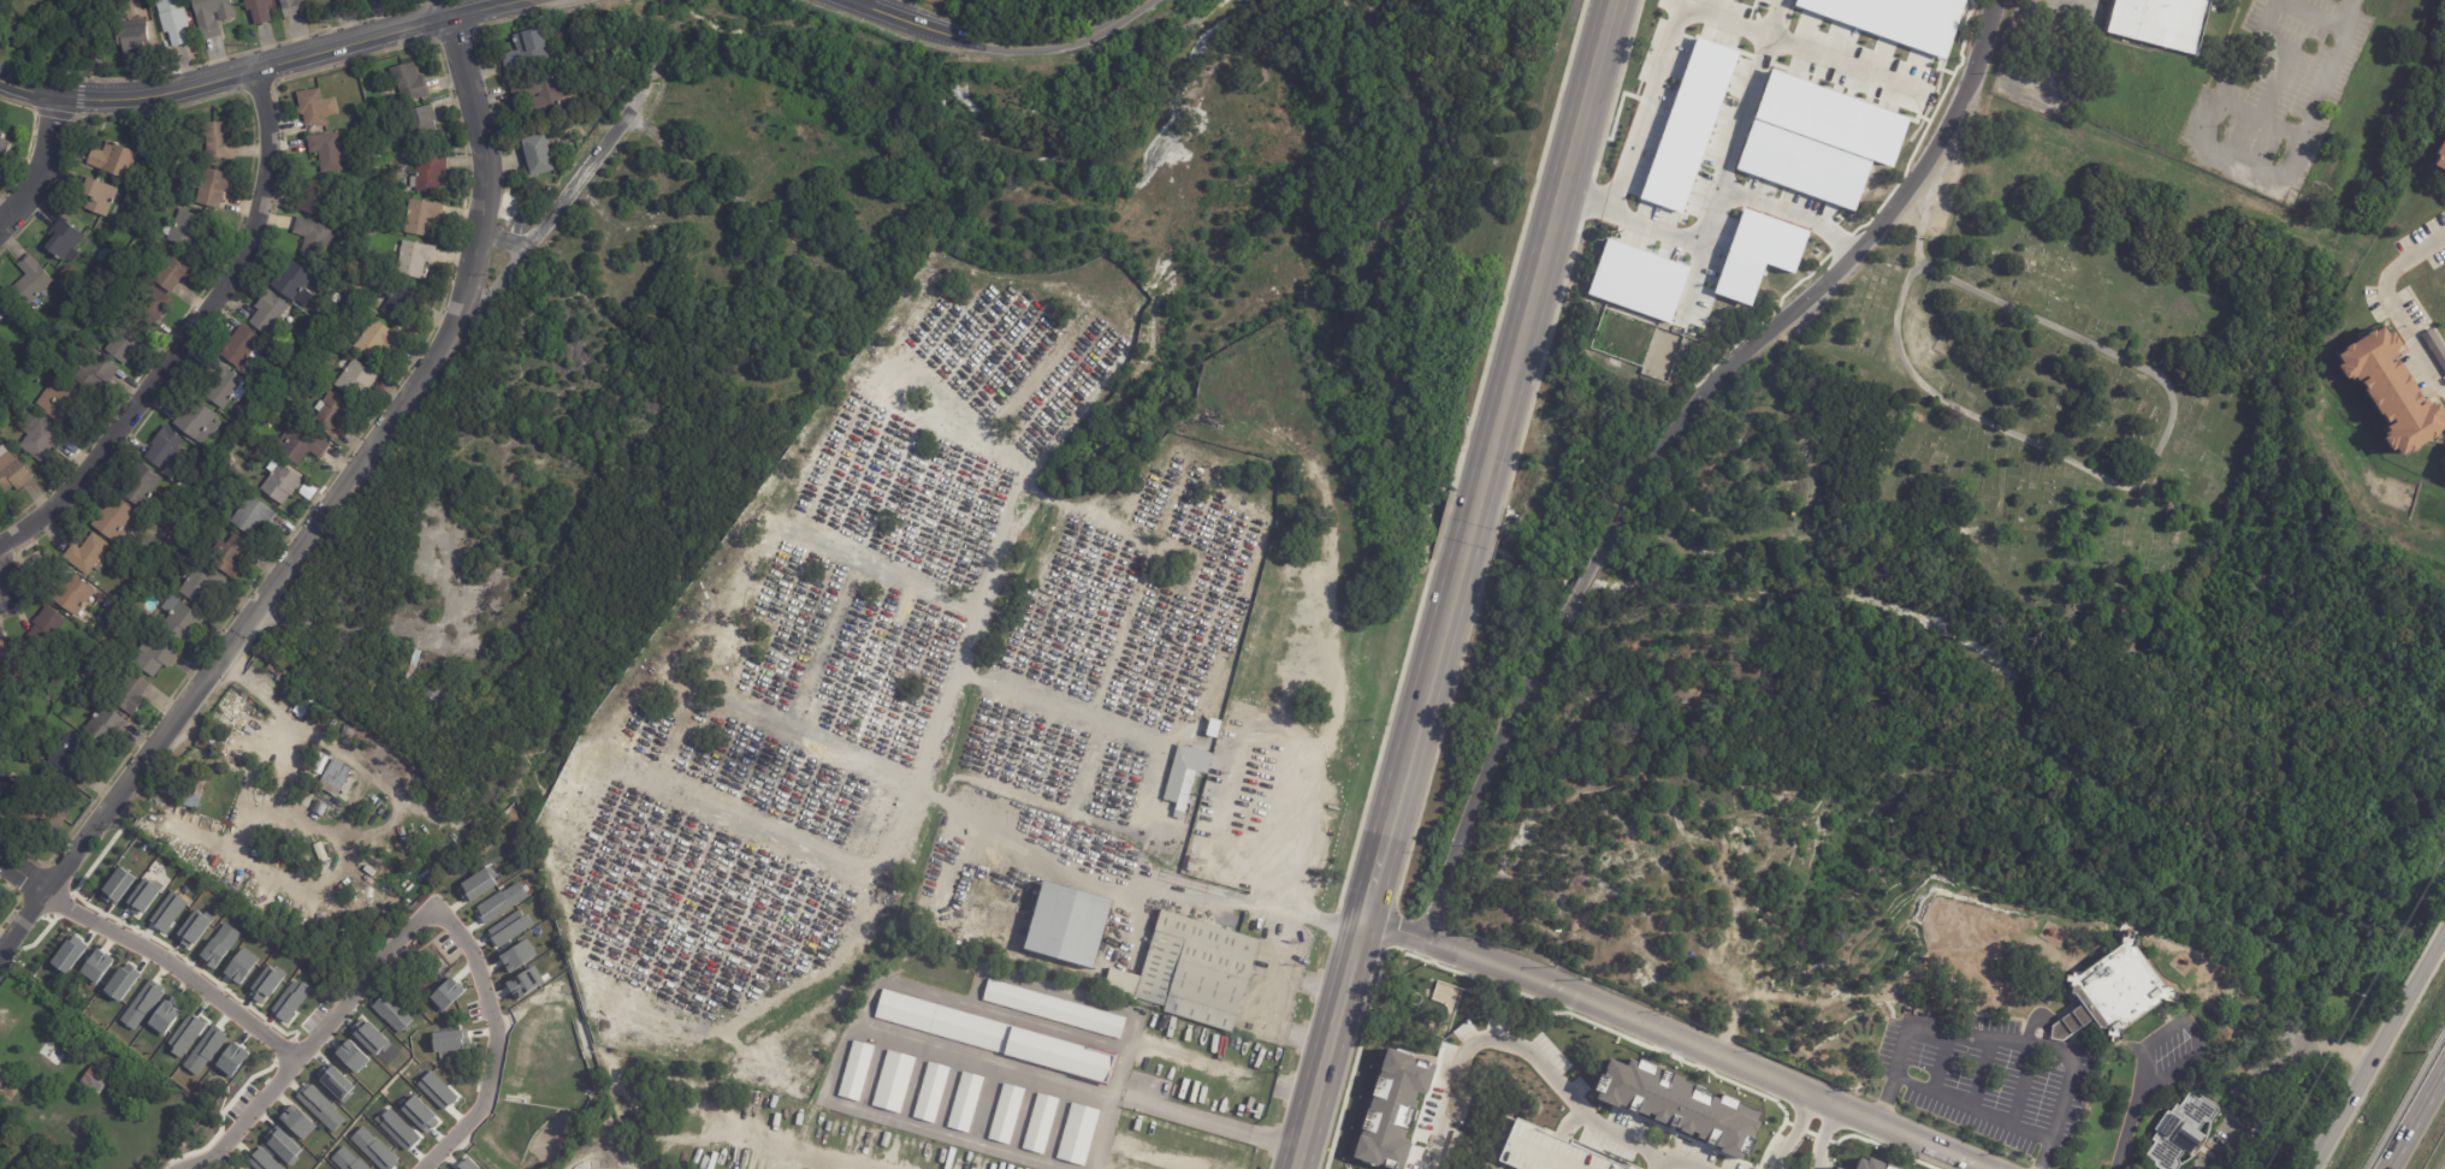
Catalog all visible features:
building: (301, 0)
road: (854, 0)
building: (339, 1)
road: (2027, 2)
road: (1697, 7)
building: (289, 8)
building: (256, 11)
road: (2320, 11)
road: (2349, 11)
building: (212, 16)
building: (171, 20)
building: (2165, 22)
road: (912, 24)
building: (131, 36)
road: (1070, 44)
road: (2025, 46)
road: (2062, 49)
building: (529, 51)
road: (261, 69)
building: (408, 82)
building: (545, 94)
road: (1745, 94)
building: (312, 107)
building: (422, 121)
building: (1688, 125)
building: (217, 140)
building: (2, 143)
road: (2207, 146)
building: (325, 150)
building: (539, 155)
building: (2439, 158)
building: (112, 159)
building: (387, 160)
road: (39, 166)
building: (427, 172)
building: (213, 186)
building: (99, 196)
building: (313, 196)
road: (563, 200)
building: (160, 206)
road: (1712, 212)
building: (422, 216)
building: (184, 231)
building: (312, 238)
building: (60, 239)
road: (1547, 251)
building: (1758, 255)
building: (414, 259)
building: (172, 269)
building: (1638, 281)
building: (30, 283)
building: (294, 284)
road: (1814, 291)
building: (150, 305)
building: (399, 305)
road: (2392, 305)
building: (4, 308)
building: (267, 311)
road: (187, 336)
building: (331, 339)
building: (378, 342)
building: (124, 343)
building: (242, 345)
building: (2434, 346)
building: (94, 372)
building: (355, 380)
park: (2059, 381)
building: (223, 387)
building: (2390, 391)
building: (57, 398)
building: (330, 415)
building: (195, 421)
building: (40, 439)
road: (972, 439)
building: (300, 444)
building: (165, 450)
building: (230, 462)
building: (12, 474)
building: (280, 483)
building: (138, 485)
building: (197, 486)
road: (325, 512)
building: (251, 515)
building: (111, 518)
road: (1468, 538)
road: (794, 540)
building: (85, 554)
building: (229, 556)
road: (1142, 565)
road: (1587, 577)
building: (200, 582)
railway: (1473, 583)
building: (70, 597)
building: (108, 609)
building: (178, 619)
building: (45, 629)
building: (154, 657)
building: (11, 664)
building: (413, 667)
building: (278, 672)
road: (954, 672)
building: (286, 690)
building: (131, 694)
building: (430, 698)
building: (231, 718)
building: (105, 725)
road: (1126, 728)
building: (39, 736)
building: (207, 741)
road: (1204, 741)
building: (260, 743)
building: (268, 753)
road: (1307, 755)
building: (71, 758)
road: (1494, 761)
building: (316, 773)
building: (336, 776)
building: (11, 787)
building: (191, 789)
building: (1186, 791)
building: (325, 797)
road: (396, 808)
road: (264, 809)
road: (735, 813)
building: (47, 817)
road: (1019, 847)
road: (1375, 870)
road: (22, 874)
building: (118, 886)
building: (476, 886)
road: (1165, 889)
building: (0, 894)
building: (143, 897)
building: (501, 903)
building: (167, 912)
building: (1150, 921)
building: (1065, 924)
building: (509, 928)
building: (193, 930)
parking lot: (446, 944)
building: (220, 945)
building: (70, 955)
building: (519, 956)
building: (97, 966)
building: (241, 966)
road: (176, 967)
road: (586, 968)
building: (1192, 972)
building: (122, 983)
building: (525, 984)
building: (265, 985)
road: (877, 989)
power tower: (2356, 993)
building: (445, 995)
building: (2119, 995)
road: (1260, 997)
building: (290, 1001)
building: (142, 1005)
building: (1053, 1010)
parking lot: (474, 1011)
building: (392, 1014)
parking lot: (313, 1017)
building: (164, 1019)
road: (324, 1028)
road: (1517, 1028)
road: (2186, 1028)
building: (187, 1033)
building: (369, 1037)
building: (997, 1038)
road: (1677, 1038)
road: (495, 1040)
road: (1999, 1040)
building: (451, 1042)
building: (205, 1051)
road: (2379, 1051)
building: (49, 1056)
building: (353, 1056)
building: (232, 1061)
road: (989, 1061)
road: (1222, 1067)
building: (857, 1070)
road: (874, 1070)
parking lot: (1984, 1074)
building: (2, 1076)
building: (94, 1081)
building: (335, 1081)
building: (894, 1082)
road: (914, 1082)
road: (2291, 1082)
building: (437, 1091)
building: (931, 1092)
road: (951, 1092)
building: (966, 1102)
road: (985, 1103)
road: (1171, 1105)
road: (1973, 1106)
building: (320, 1108)
building: (420, 1114)
building: (1007, 1114)
road: (1024, 1114)
road: (2414, 1115)
building: (297, 1121)
building: (1041, 1123)
road: (1058, 1123)
road: (2129, 1127)
building: (398, 1131)
building: (1123, 1131)
building: (2175, 1131)
building: (1078, 1134)
road: (1808, 1134)
building: (283, 1145)
road: (788, 1147)
building: (374, 1150)
building: (1156, 1155)
road: (1552, 1156)
building: (347, 1159)
building: (264, 1161)
road: (1673, 1161)
road: (200, 1162)
building: (468, 1164)
building: (1024, 1168)

